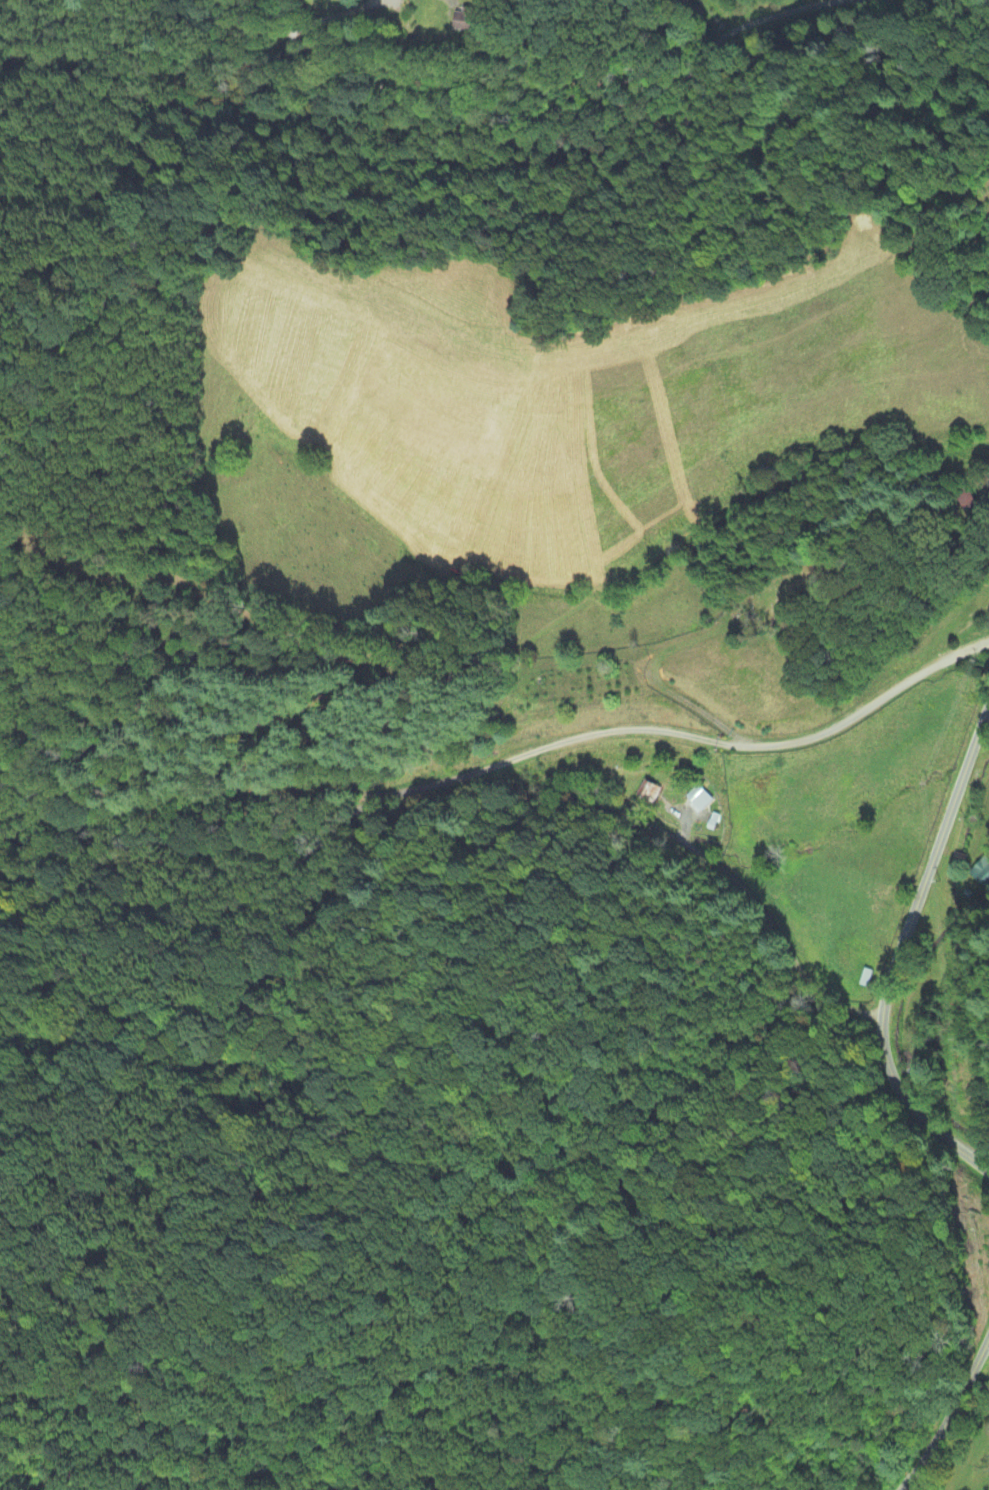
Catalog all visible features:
building: (469, 21)
road: (584, 103)
building: (960, 499)
park: (773, 597)
road: (502, 766)
building: (647, 792)
building: (701, 801)
building: (982, 872)
road: (897, 952)
road: (946, 1407)

